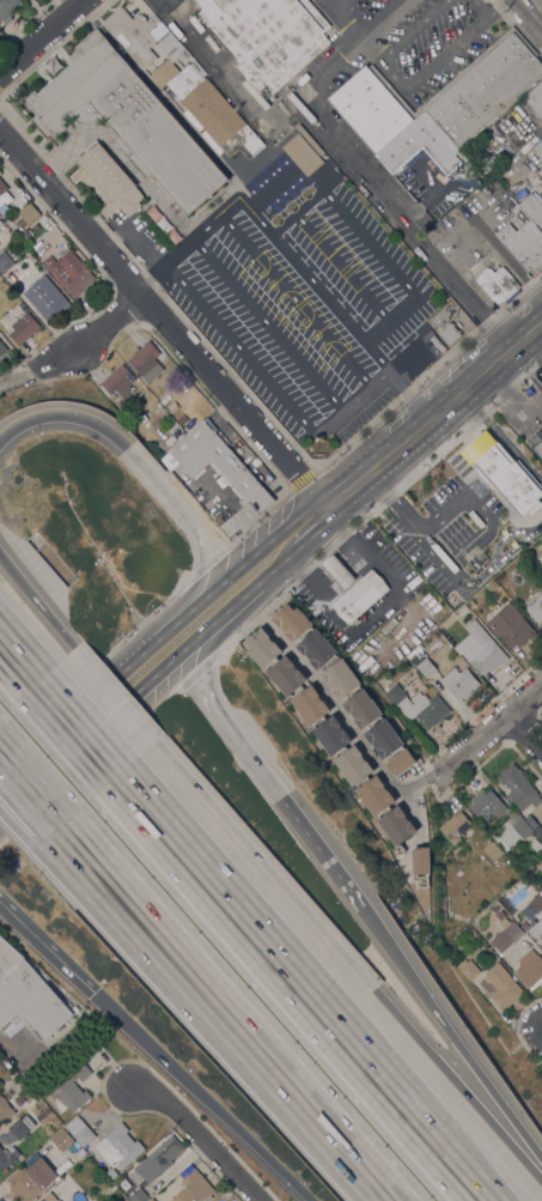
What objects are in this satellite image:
road: (538, 2)
building: (8, 8)
road: (477, 8)
road: (498, 8)
road: (337, 23)
road: (382, 23)
road: (416, 28)
building: (0, 32)
building: (135, 34)
road: (39, 35)
building: (268, 35)
road: (377, 46)
building: (172, 48)
road: (436, 68)
road: (329, 72)
building: (78, 80)
building: (485, 87)
building: (535, 99)
building: (208, 108)
building: (372, 109)
building: (154, 139)
road: (339, 141)
building: (424, 147)
building: (540, 153)
building: (302, 154)
building: (0, 172)
building: (541, 172)
building: (108, 180)
building: (4, 193)
building: (531, 210)
building: (26, 214)
building: (0, 224)
building: (7, 235)
building: (519, 236)
road: (280, 248)
building: (5, 262)
building: (69, 272)
road: (151, 275)
building: (498, 284)
building: (45, 298)
road: (162, 320)
building: (23, 328)
road: (101, 329)
building: (449, 333)
building: (437, 344)
building: (2, 348)
road: (285, 348)
road: (251, 357)
building: (146, 362)
road: (415, 368)
road: (30, 372)
building: (118, 382)
road: (406, 393)
building: (172, 407)
road: (432, 411)
building: (182, 419)
road: (500, 436)
building: (170, 441)
building: (536, 442)
building: (217, 463)
building: (504, 474)
road: (148, 475)
road: (536, 528)
road: (315, 533)
road: (503, 538)
road: (513, 550)
road: (329, 552)
road: (458, 552)
railway: (270, 565)
building: (337, 571)
road: (264, 577)
road: (468, 581)
building: (492, 586)
building: (359, 595)
building: (471, 603)
road: (38, 606)
building: (536, 608)
road: (373, 611)
building: (463, 611)
building: (292, 620)
building: (511, 625)
road: (274, 629)
road: (159, 639)
building: (262, 648)
building: (317, 648)
building: (481, 648)
building: (413, 651)
road: (16, 667)
building: (426, 667)
building: (286, 675)
building: (341, 678)
building: (459, 683)
road: (117, 697)
building: (310, 705)
building: (418, 705)
road: (118, 706)
building: (363, 708)
road: (526, 730)
road: (73, 732)
building: (331, 735)
road: (357, 735)
building: (384, 738)
road: (479, 742)
building: (401, 762)
road: (251, 763)
building: (353, 765)
building: (518, 787)
road: (31, 790)
building: (376, 795)
building: (487, 805)
building: (397, 825)
building: (532, 825)
building: (455, 827)
building: (513, 829)
road: (18, 830)
building: (535, 845)
building: (492, 850)
building: (421, 861)
building: (534, 905)
building: (524, 926)
building: (536, 932)
building: (506, 933)
building: (7, 958)
road: (351, 959)
building: (468, 969)
building: (530, 969)
road: (294, 984)
building: (500, 985)
road: (181, 989)
road: (103, 1000)
building: (30, 1001)
road: (225, 1013)
road: (452, 1041)
building: (69, 1088)
building: (30, 1093)
building: (38, 1102)
building: (5, 1110)
building: (22, 1127)
building: (80, 1132)
road: (197, 1138)
building: (62, 1139)
building: (118, 1147)
road: (258, 1150)
building: (13, 1152)
building: (159, 1158)
building: (5, 1159)
building: (111, 1173)
building: (30, 1179)
building: (193, 1187)
building: (139, 1195)
road: (479, 1196)
building: (49, 1197)
building: (59, 1200)
building: (124, 1200)
building: (151, 1200)

